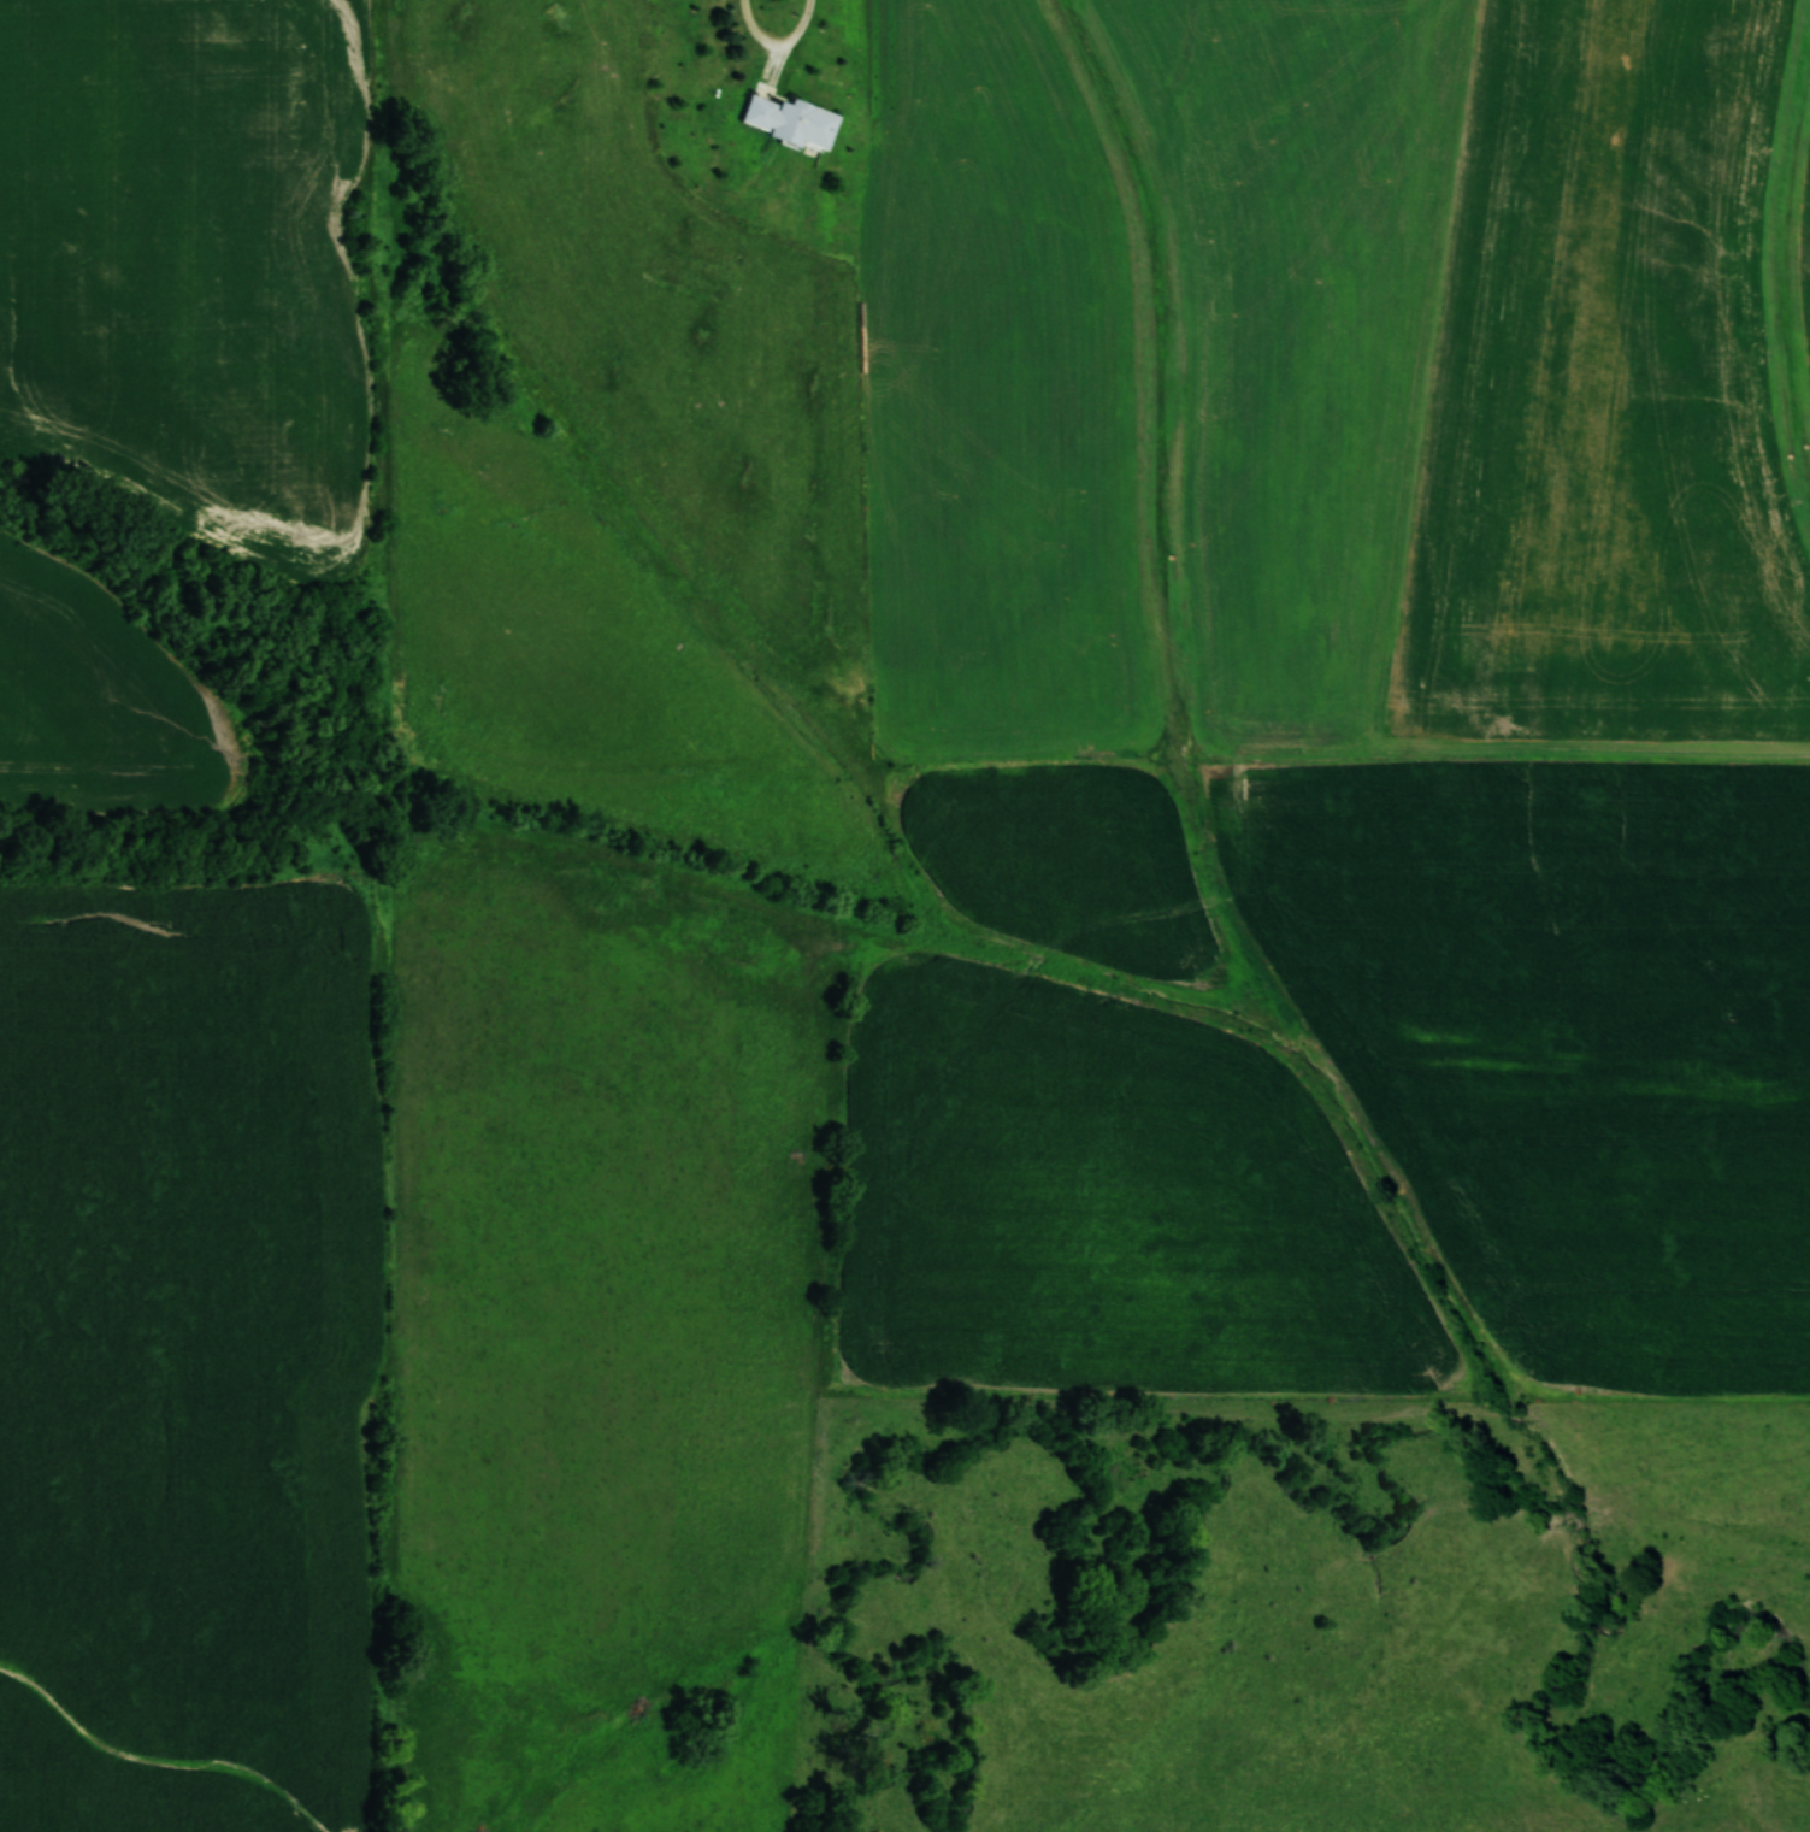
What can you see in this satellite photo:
road: (776, 43)
building: (782, 122)

